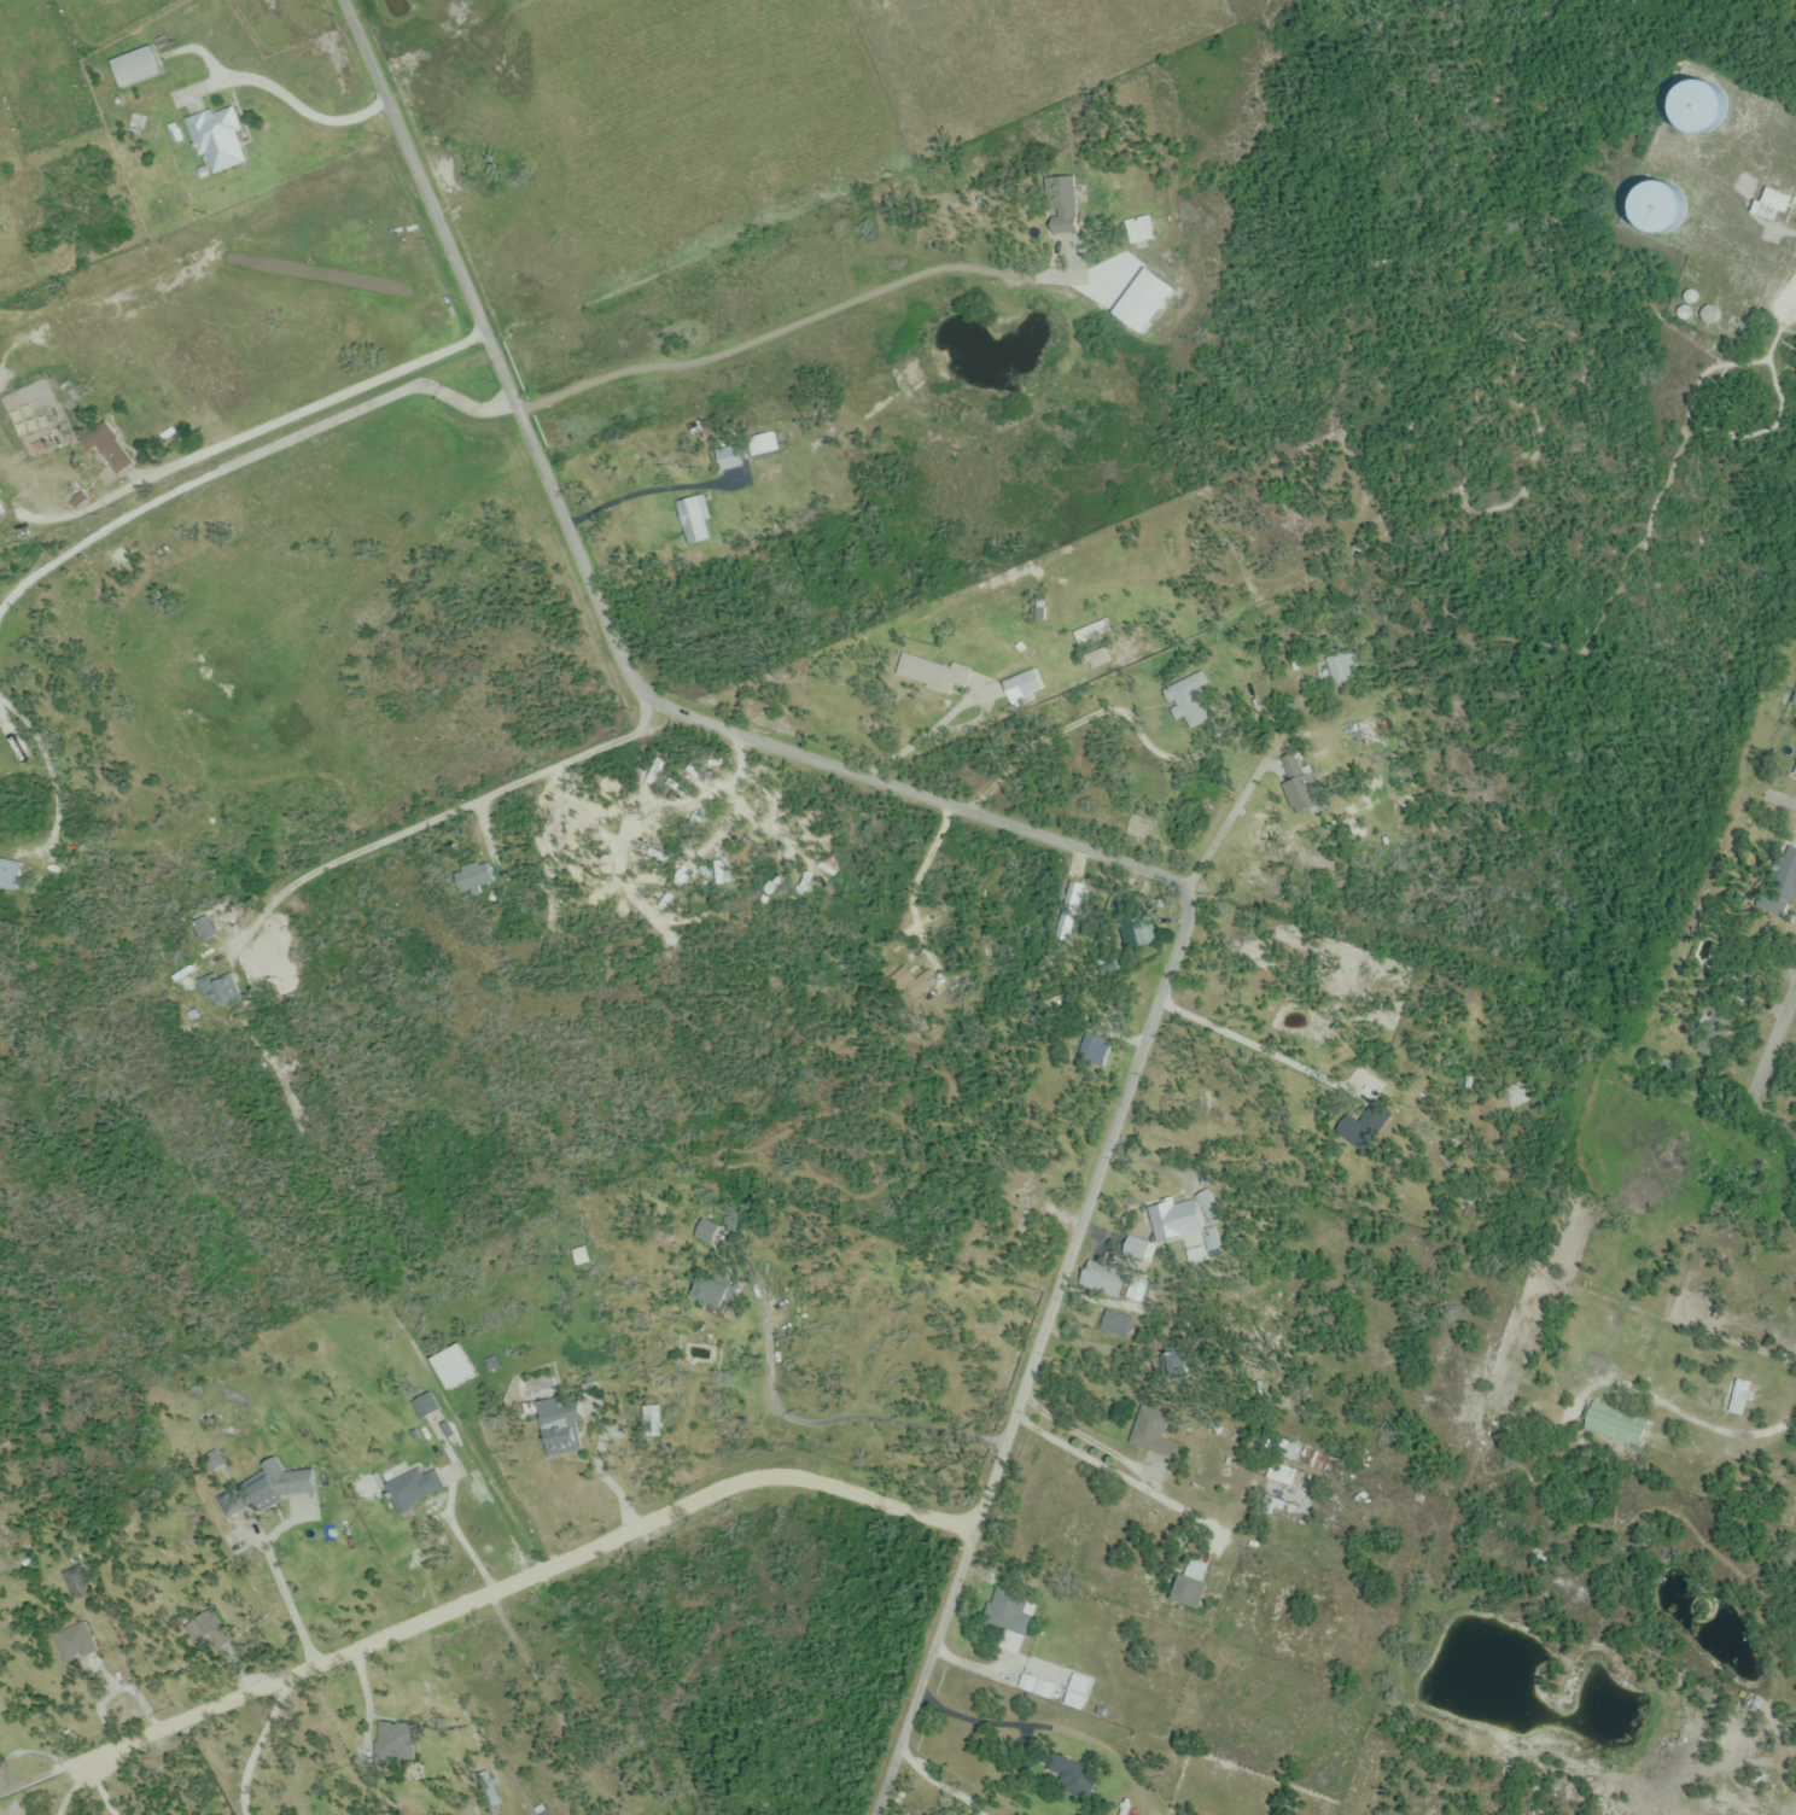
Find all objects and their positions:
building: (135, 68)
building: (1693, 107)
road: (303, 112)
building: (215, 141)
building: (1060, 205)
building: (1768, 205)
building: (1651, 208)
building: (1138, 230)
road: (1792, 267)
road: (245, 426)
building: (109, 450)
road: (241, 451)
building: (730, 459)
building: (0, 510)
building: (694, 521)
building: (1096, 661)
building: (1340, 669)
building: (931, 673)
building: (1022, 687)
building: (1183, 710)
building: (1361, 733)
building: (1298, 794)
road: (1782, 799)
road: (1015, 827)
building: (1784, 873)
building: (10, 875)
building: (1136, 933)
building: (227, 990)
building: (923, 993)
road: (1774, 1040)
building: (1094, 1049)
building: (1366, 1124)
building: (1026, 1213)
building: (1189, 1220)
building: (707, 1233)
building: (1102, 1280)
building: (719, 1294)
building: (1116, 1323)
building: (1177, 1364)
building: (451, 1368)
building: (1739, 1399)
building: (425, 1406)
road: (820, 1422)
building: (1613, 1425)
building: (559, 1428)
building: (1151, 1432)
road: (1081, 1438)
road: (1121, 1480)
building: (280, 1486)
building: (1281, 1487)
building: (413, 1490)
building: (228, 1504)
road: (519, 1577)
building: (1186, 1583)
building: (1007, 1611)
building: (75, 1642)
building: (1795, 1646)
road: (969, 1665)
building: (393, 1745)
road: (253, 1746)

